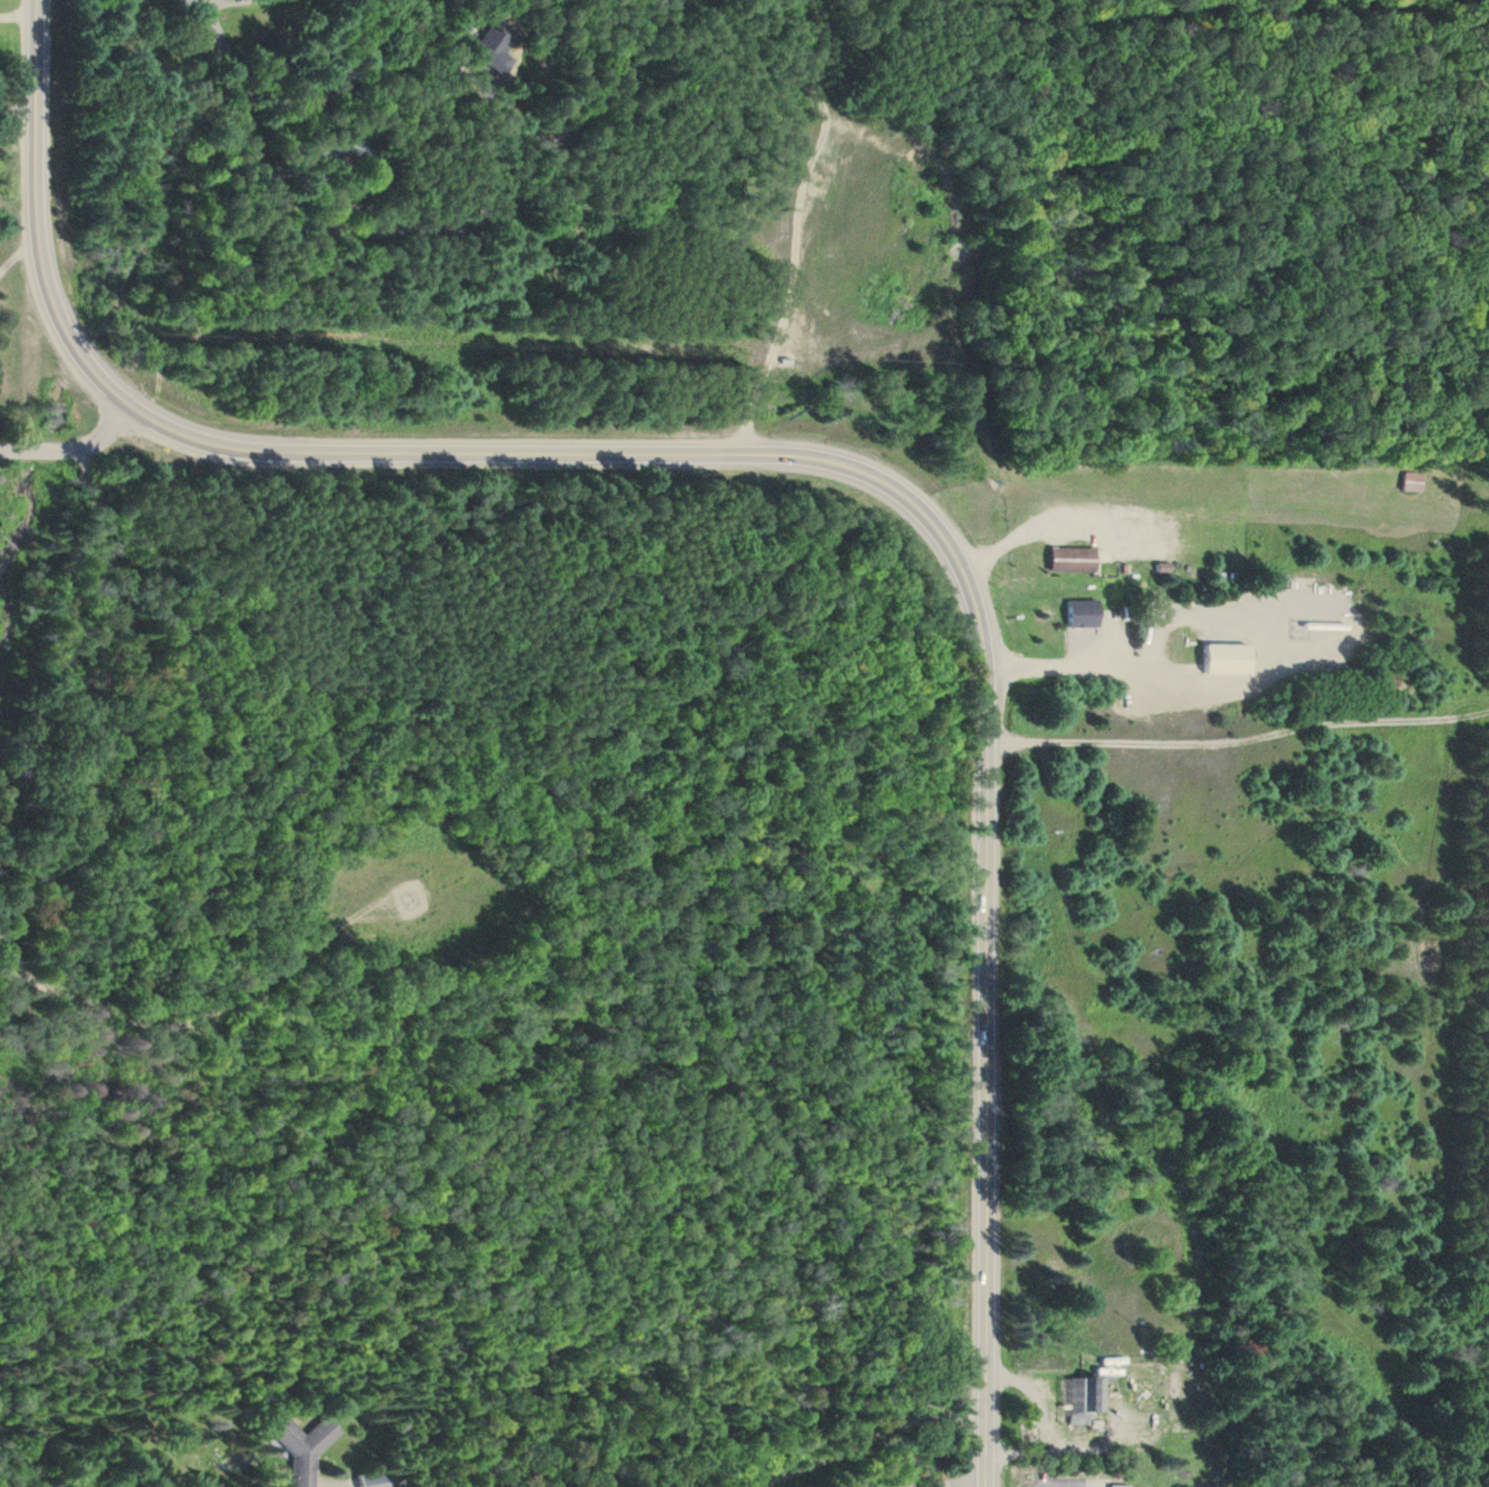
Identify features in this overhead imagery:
road: (231, 3)
road: (1177, 9)
road: (225, 43)
building: (490, 48)
road: (238, 100)
building: (349, 144)
road: (472, 219)
road: (74, 450)
road: (806, 458)
building: (1413, 483)
building: (1069, 560)
building: (1160, 568)
building: (1081, 614)
building: (1222, 660)
road: (124, 710)
building: (1077, 1401)
building: (302, 1448)
road: (325, 1471)
building: (1186, 1475)
building: (374, 1480)
building: (1117, 1486)

